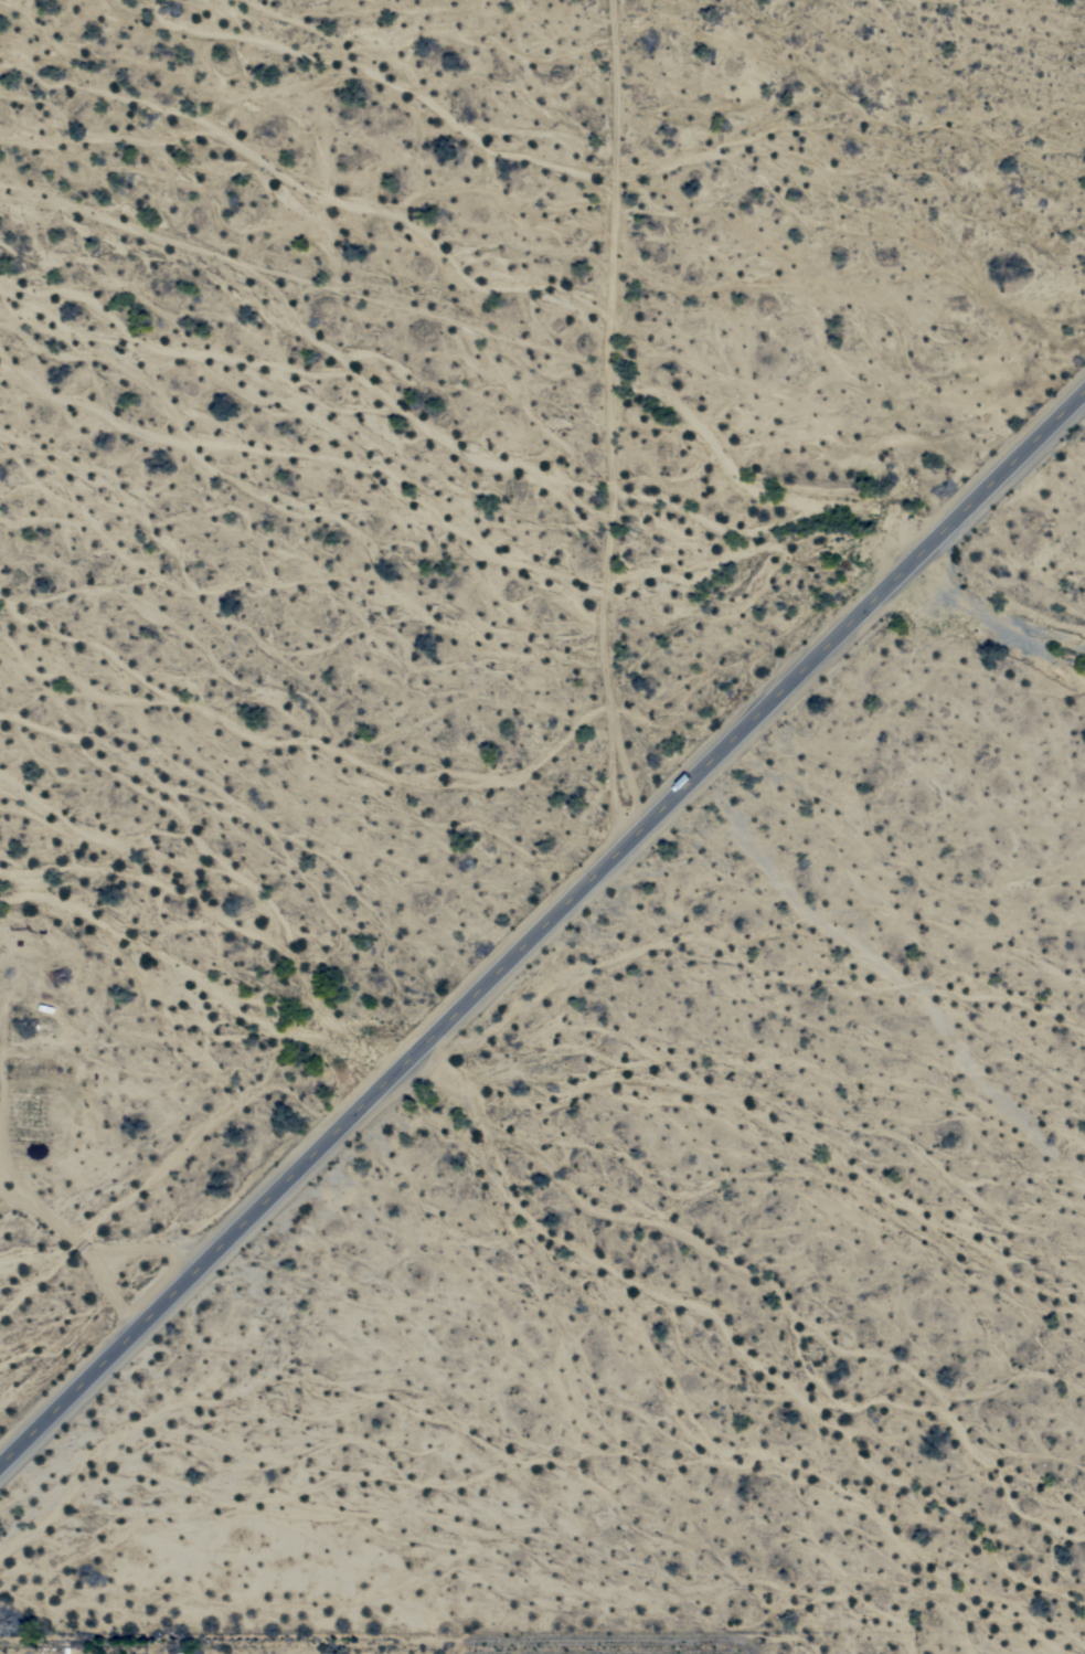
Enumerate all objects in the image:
road: (617, 416)
road: (543, 925)

